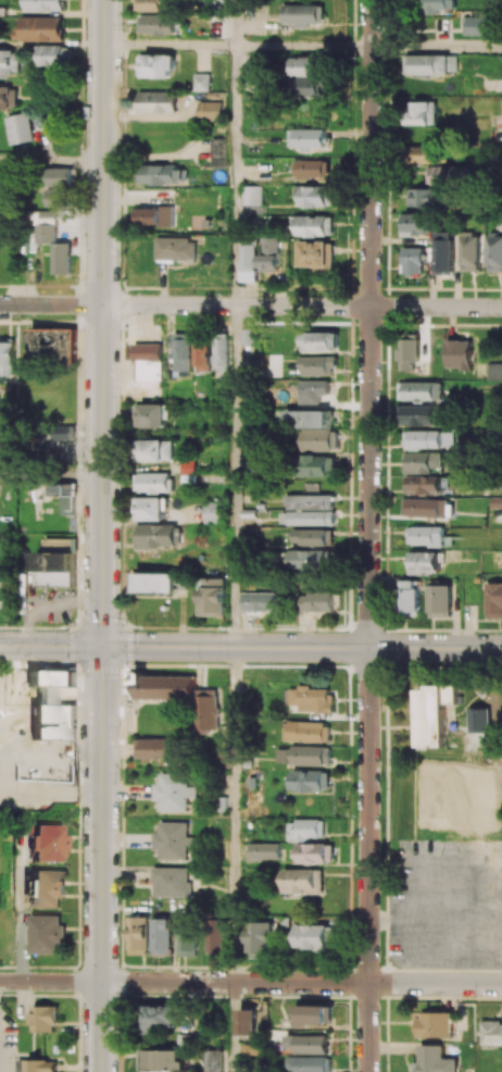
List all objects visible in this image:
building: (45, 4)
building: (161, 4)
building: (437, 5)
building: (303, 13)
road: (235, 23)
building: (159, 24)
building: (479, 25)
building: (40, 28)
road: (168, 46)
road: (303, 47)
road: (437, 47)
building: (53, 54)
building: (9, 61)
building: (431, 63)
building: (155, 65)
building: (308, 76)
building: (201, 82)
building: (7, 97)
building: (156, 101)
building: (210, 110)
building: (423, 112)
building: (18, 127)
building: (309, 137)
building: (218, 151)
building: (423, 153)
road: (51, 163)
building: (313, 167)
building: (160, 174)
building: (444, 174)
road: (235, 175)
building: (60, 186)
building: (252, 195)
building: (317, 195)
building: (430, 197)
building: (152, 215)
building: (418, 223)
building: (47, 224)
building: (315, 225)
building: (177, 248)
building: (470, 251)
building: (317, 252)
building: (444, 252)
building: (494, 252)
building: (271, 254)
building: (62, 258)
building: (413, 260)
building: (250, 262)
road: (51, 303)
road: (302, 306)
road: (102, 323)
road: (371, 323)
building: (246, 339)
building: (321, 340)
building: (54, 341)
building: (181, 351)
building: (221, 351)
building: (202, 353)
building: (409, 353)
building: (460, 353)
building: (7, 357)
building: (148, 361)
building: (275, 364)
building: (319, 364)
building: (494, 371)
building: (316, 389)
building: (421, 390)
building: (151, 414)
building: (418, 414)
building: (311, 417)
building: (65, 432)
building: (428, 438)
building: (319, 439)
building: (155, 449)
building: (422, 461)
building: (188, 463)
building: (321, 464)
road: (234, 475)
road: (51, 476)
building: (153, 482)
building: (423, 483)
building: (62, 487)
building: (313, 501)
building: (70, 503)
building: (425, 507)
building: (149, 508)
building: (213, 511)
building: (310, 518)
building: (156, 535)
building: (426, 535)
building: (315, 536)
building: (314, 560)
building: (424, 562)
building: (57, 569)
building: (153, 582)
building: (5, 588)
building: (213, 596)
building: (410, 596)
building: (493, 599)
building: (262, 600)
building: (440, 600)
building: (319, 601)
traffic signals: (102, 647)
road: (251, 647)
building: (50, 682)
building: (164, 686)
building: (313, 698)
building: (206, 709)
building: (435, 713)
building: (54, 721)
building: (308, 731)
building: (152, 748)
building: (312, 755)
building: (310, 780)
building: (173, 790)
road: (233, 814)
building: (306, 828)
building: (172, 840)
building: (47, 843)
building: (265, 850)
building: (317, 852)
road: (101, 859)
road: (369, 859)
building: (171, 881)
building: (303, 881)
building: (46, 888)
building: (46, 933)
building: (138, 935)
building: (216, 935)
building: (162, 936)
building: (187, 936)
building: (313, 937)
building: (261, 939)
road: (50, 981)
road: (301, 983)
building: (314, 1014)
building: (46, 1018)
building: (161, 1018)
building: (248, 1021)
building: (435, 1024)
road: (231, 1027)
building: (491, 1032)
building: (309, 1043)
building: (166, 1058)
building: (215, 1060)
building: (435, 1060)
building: (311, 1063)
building: (40, 1064)

